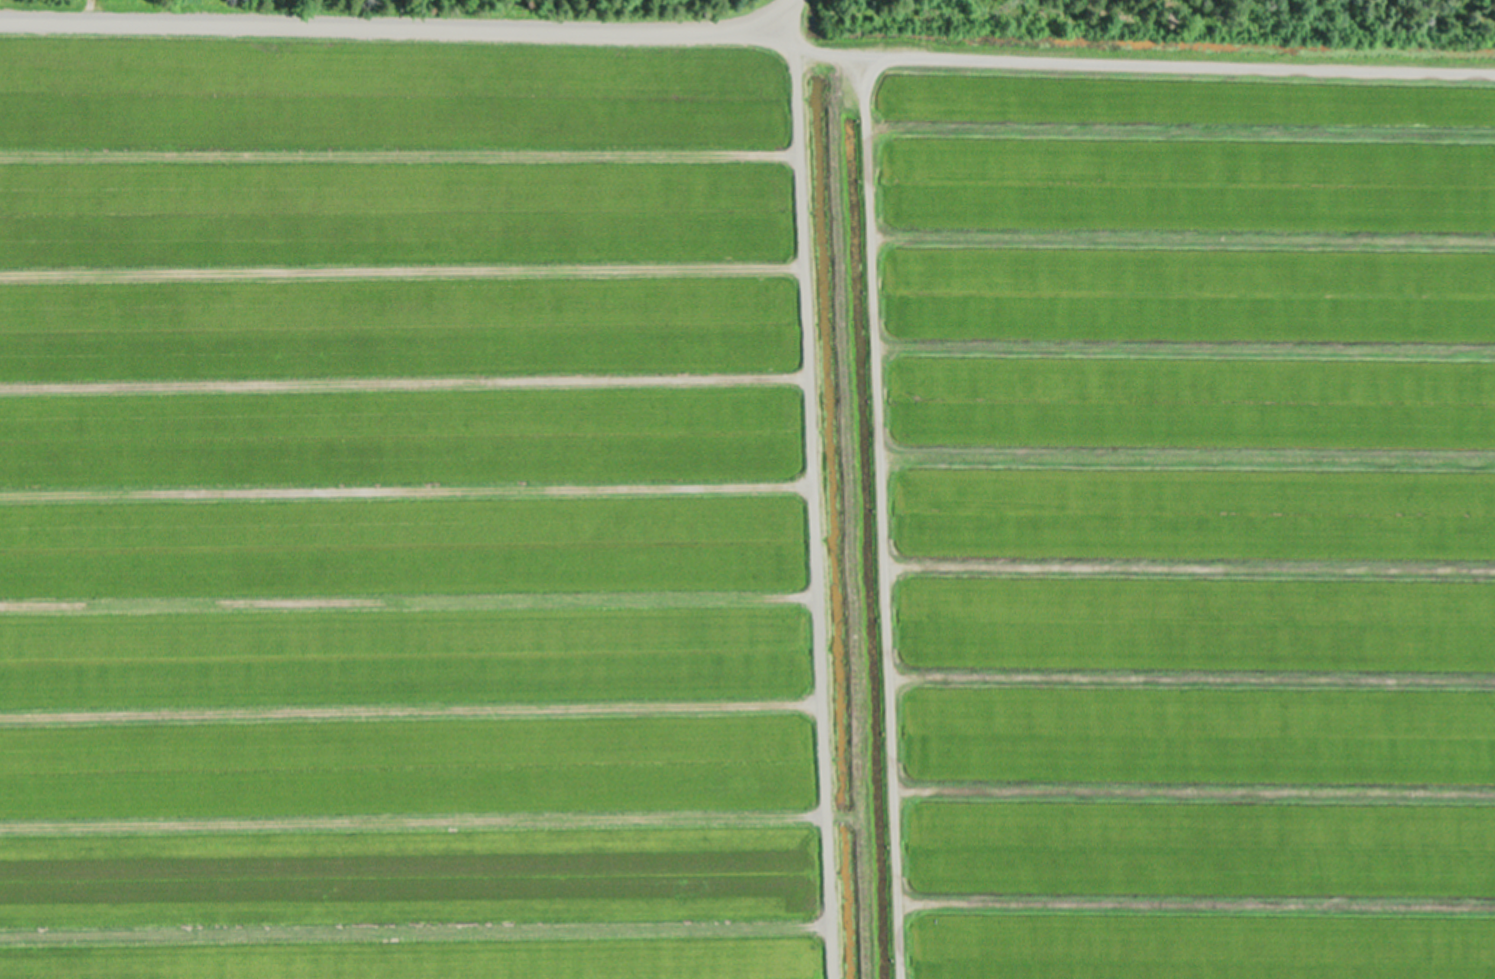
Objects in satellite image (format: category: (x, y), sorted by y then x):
road: (784, 14)
road: (750, 29)
crop: (739, 497)
road: (807, 503)
road: (875, 518)

